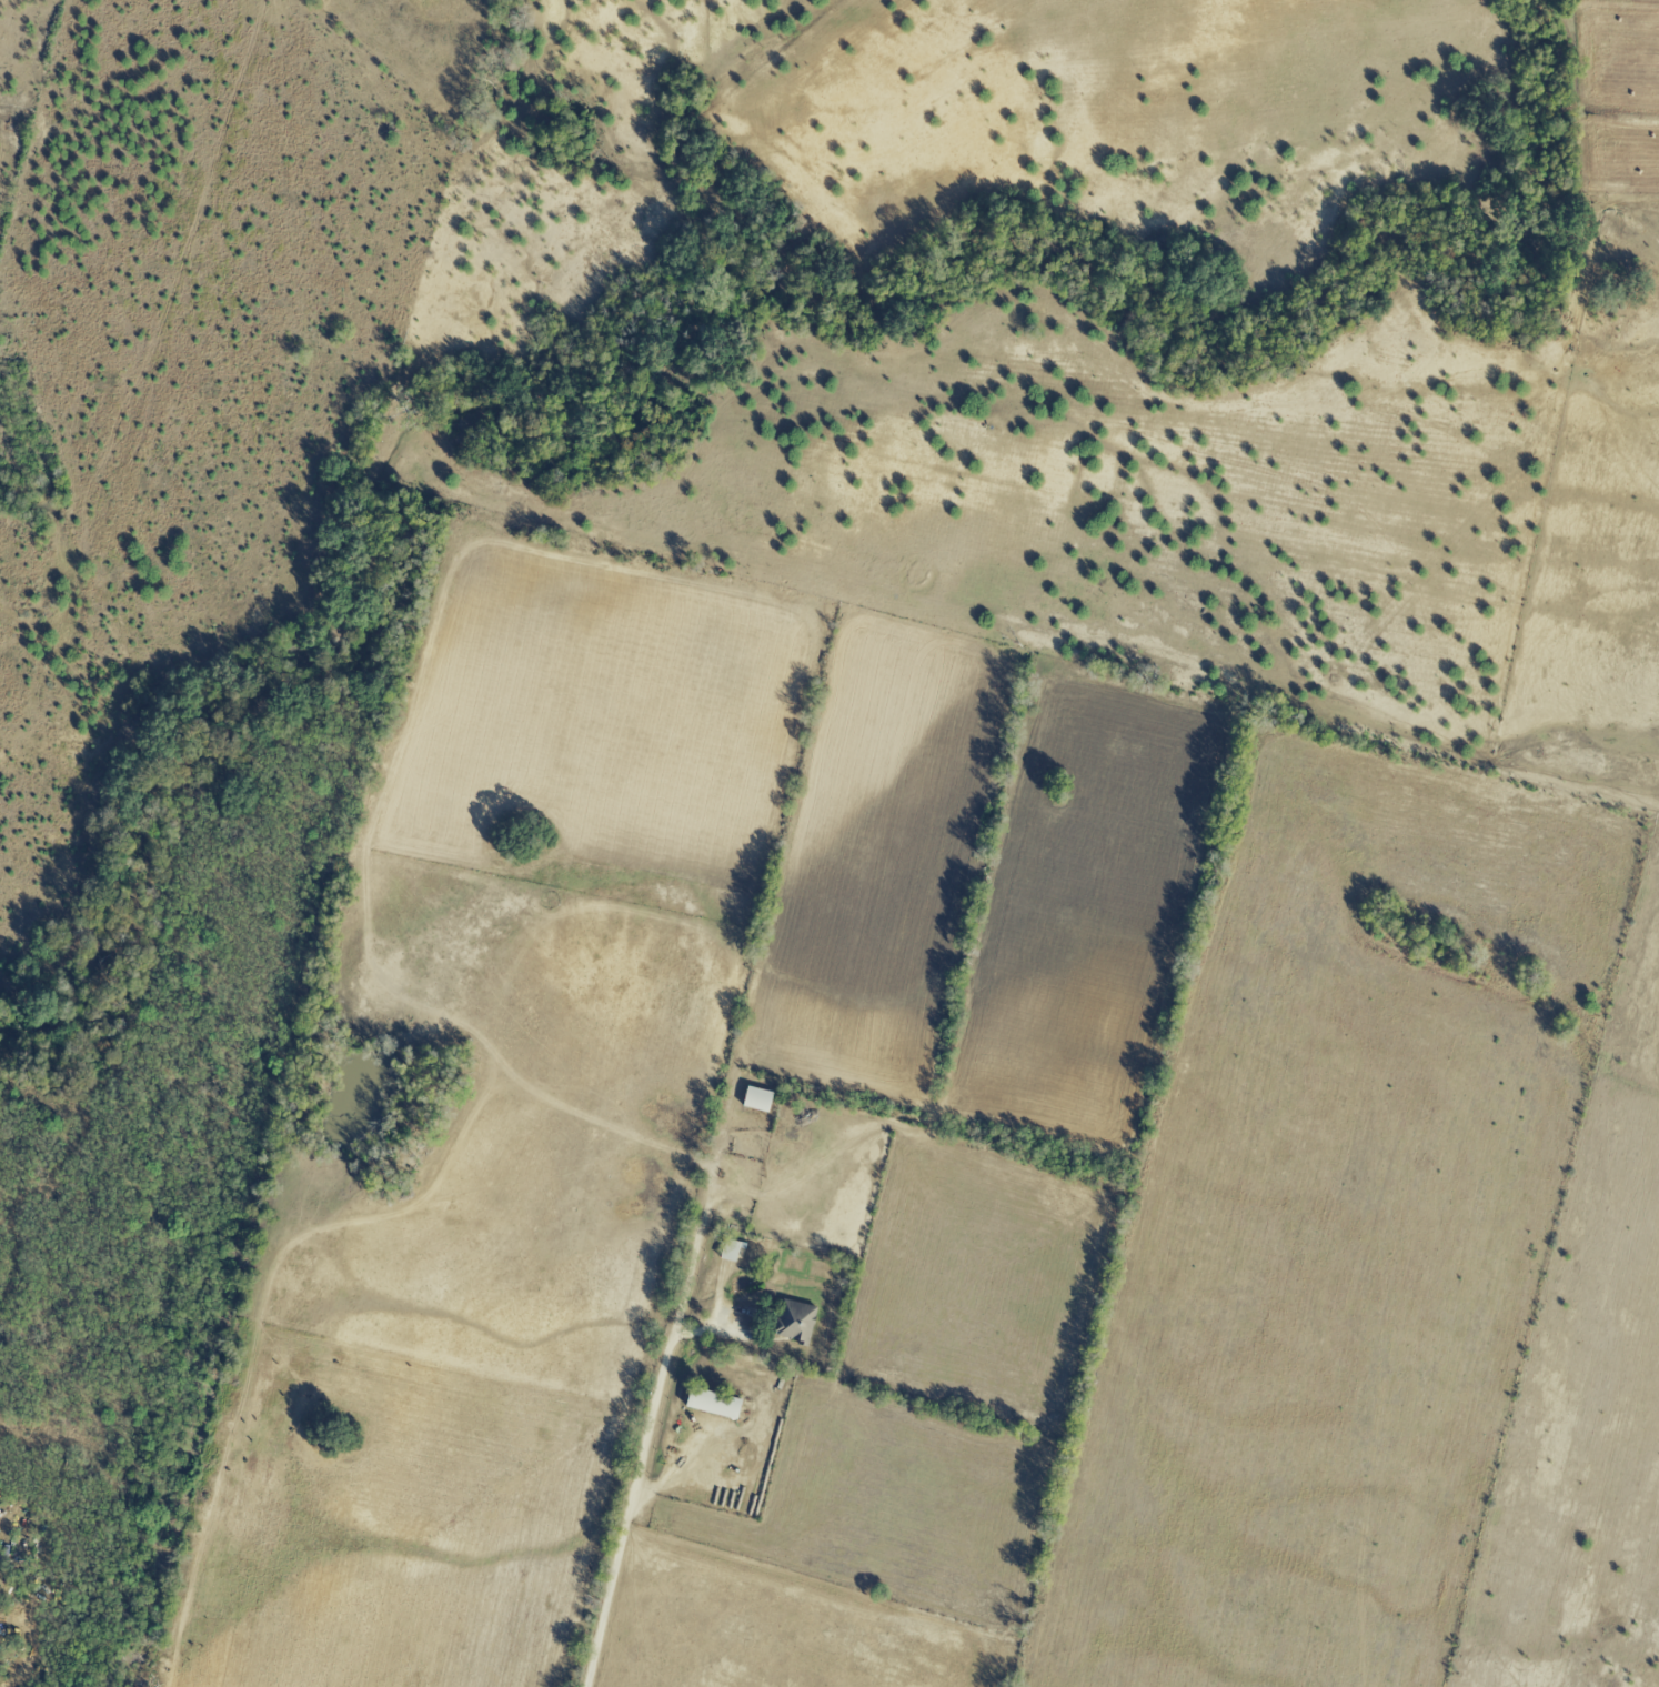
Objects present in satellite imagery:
building: (756, 1098)
building: (730, 1251)
building: (794, 1322)
building: (712, 1404)
road: (634, 1485)

